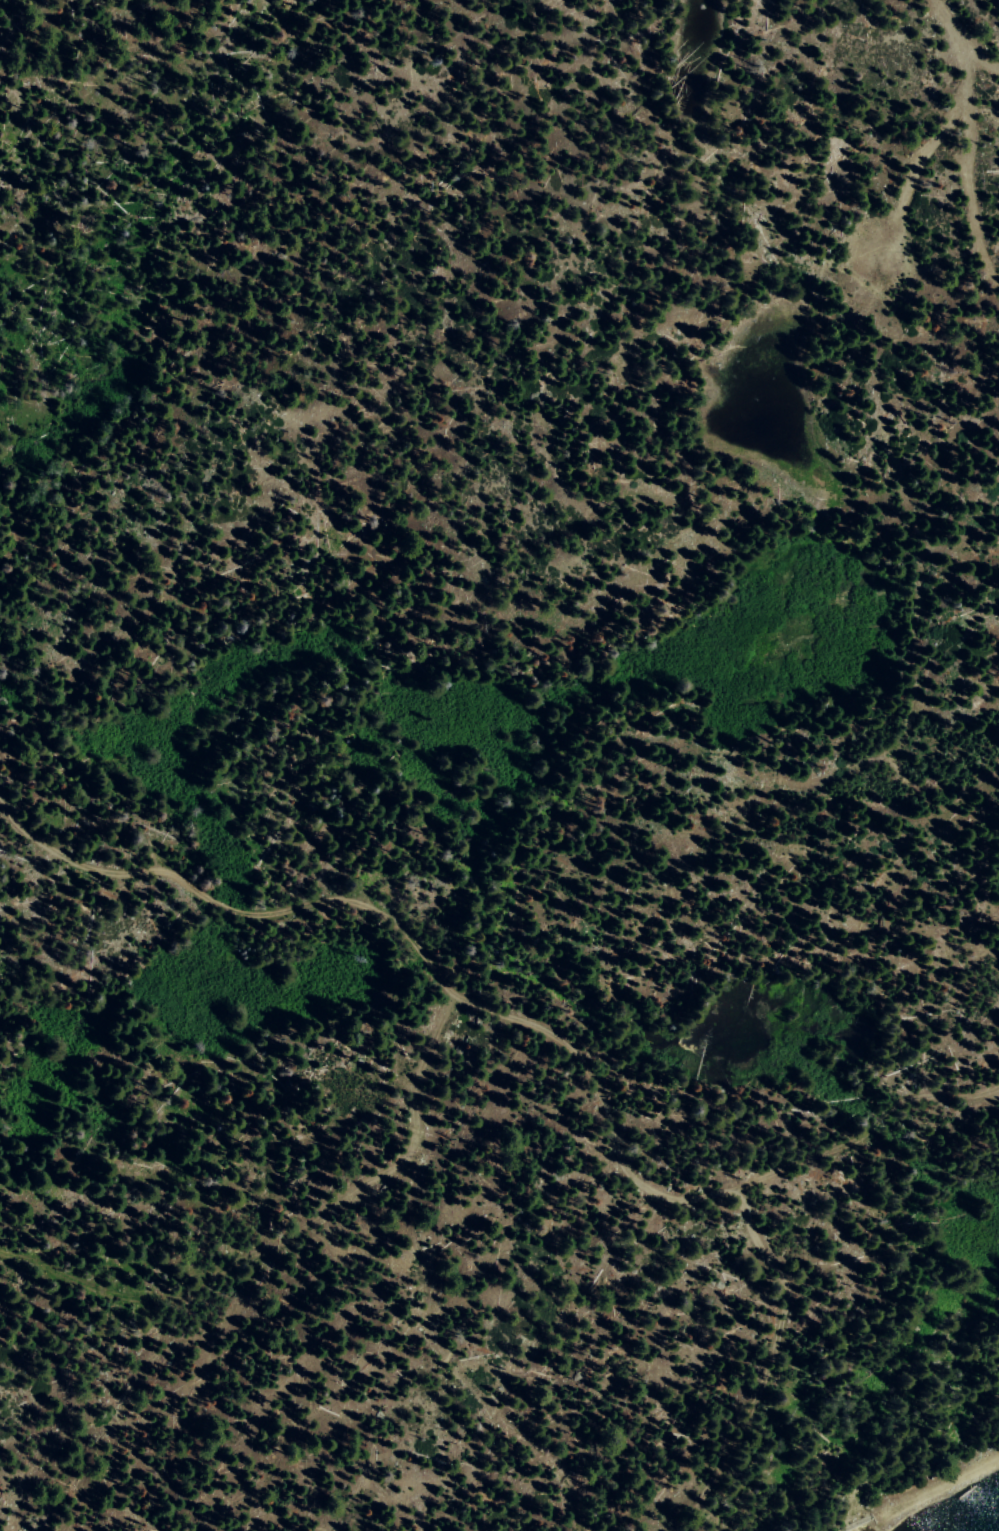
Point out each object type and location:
road: (984, 66)
road: (969, 136)
road: (914, 174)
road: (409, 940)
road: (752, 1231)
road: (414, 1288)
road: (936, 1489)

